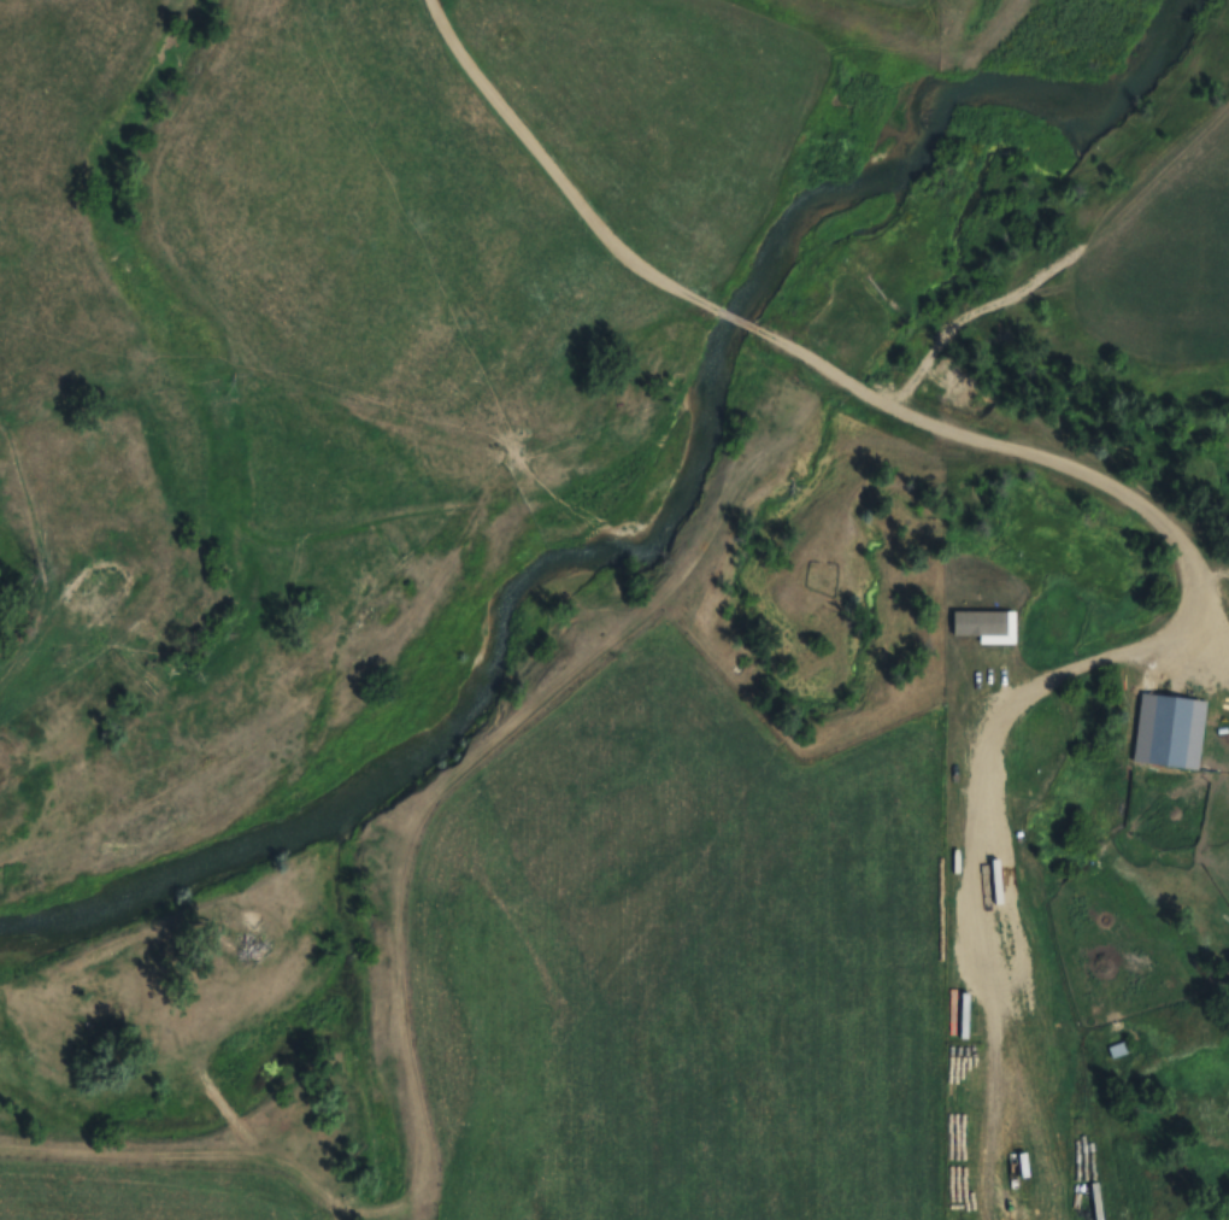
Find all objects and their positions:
river: (906, 119)
building: (981, 622)
building: (1170, 731)
river: (427, 735)
building: (1121, 1049)
building: (1096, 1202)

